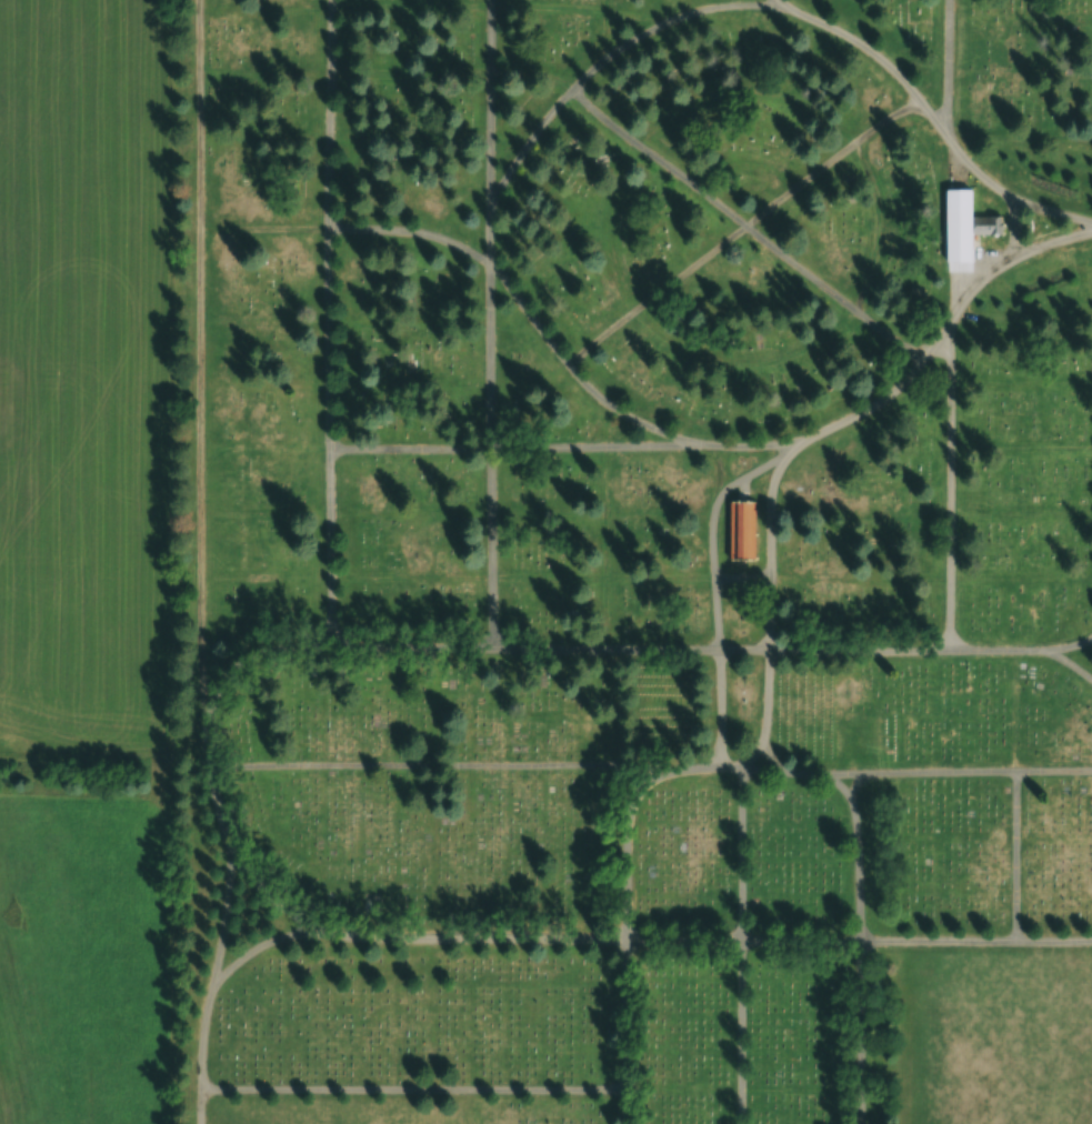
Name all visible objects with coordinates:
road: (783, 3)
road: (549, 7)
road: (607, 7)
road: (411, 8)
road: (266, 10)
road: (641, 17)
road: (669, 20)
road: (607, 36)
road: (862, 44)
road: (948, 67)
road: (410, 72)
road: (532, 73)
road: (743, 89)
road: (490, 107)
road: (329, 112)
road: (933, 119)
road: (951, 142)
road: (524, 148)
road: (657, 158)
road: (831, 160)
road: (956, 167)
road: (980, 174)
road: (1048, 212)
building: (955, 215)
building: (984, 224)
road: (605, 225)
road: (878, 225)
road: (1010, 225)
road: (411, 231)
road: (489, 237)
road: (1050, 242)
road: (950, 283)
road: (975, 284)
road: (655, 294)
road: (832, 294)
road: (528, 313)
road: (328, 337)
road: (938, 340)
road: (490, 354)
road: (744, 364)
road: (200, 382)
road: (870, 405)
road: (631, 418)
road: (758, 444)
road: (600, 446)
road: (410, 448)
road: (1021, 448)
road: (719, 469)
road: (752, 472)
road: (951, 484)
road: (607, 512)
building: (741, 530)
road: (712, 536)
road: (770, 538)
road: (491, 548)
park: (632, 562)
road: (411, 575)
road: (661, 576)
road: (550, 578)
road: (742, 578)
road: (859, 579)
road: (1021, 579)
road: (607, 613)
road: (715, 613)
road: (333, 619)
road: (1066, 645)
road: (607, 649)
road: (744, 650)
road: (859, 650)
road: (994, 650)
road: (1068, 661)
road: (767, 695)
road: (720, 707)
road: (752, 755)
road: (770, 759)
road: (429, 764)
road: (731, 767)
road: (679, 769)
road: (764, 770)
road: (1054, 771)
road: (804, 773)
road: (940, 773)
road: (844, 774)
road: (840, 784)
road: (853, 785)
road: (216, 807)
road: (742, 853)
road: (1015, 855)
road: (625, 859)
road: (858, 870)
road: (278, 904)
road: (223, 922)
road: (487, 937)
road: (685, 940)
road: (801, 940)
road: (267, 941)
road: (939, 941)
road: (1054, 941)
road: (629, 1013)
road: (742, 1032)
road: (864, 1032)
road: (200, 1042)
road: (413, 1090)
road: (198, 1103)
road: (629, 1105)
road: (199, 1120)

